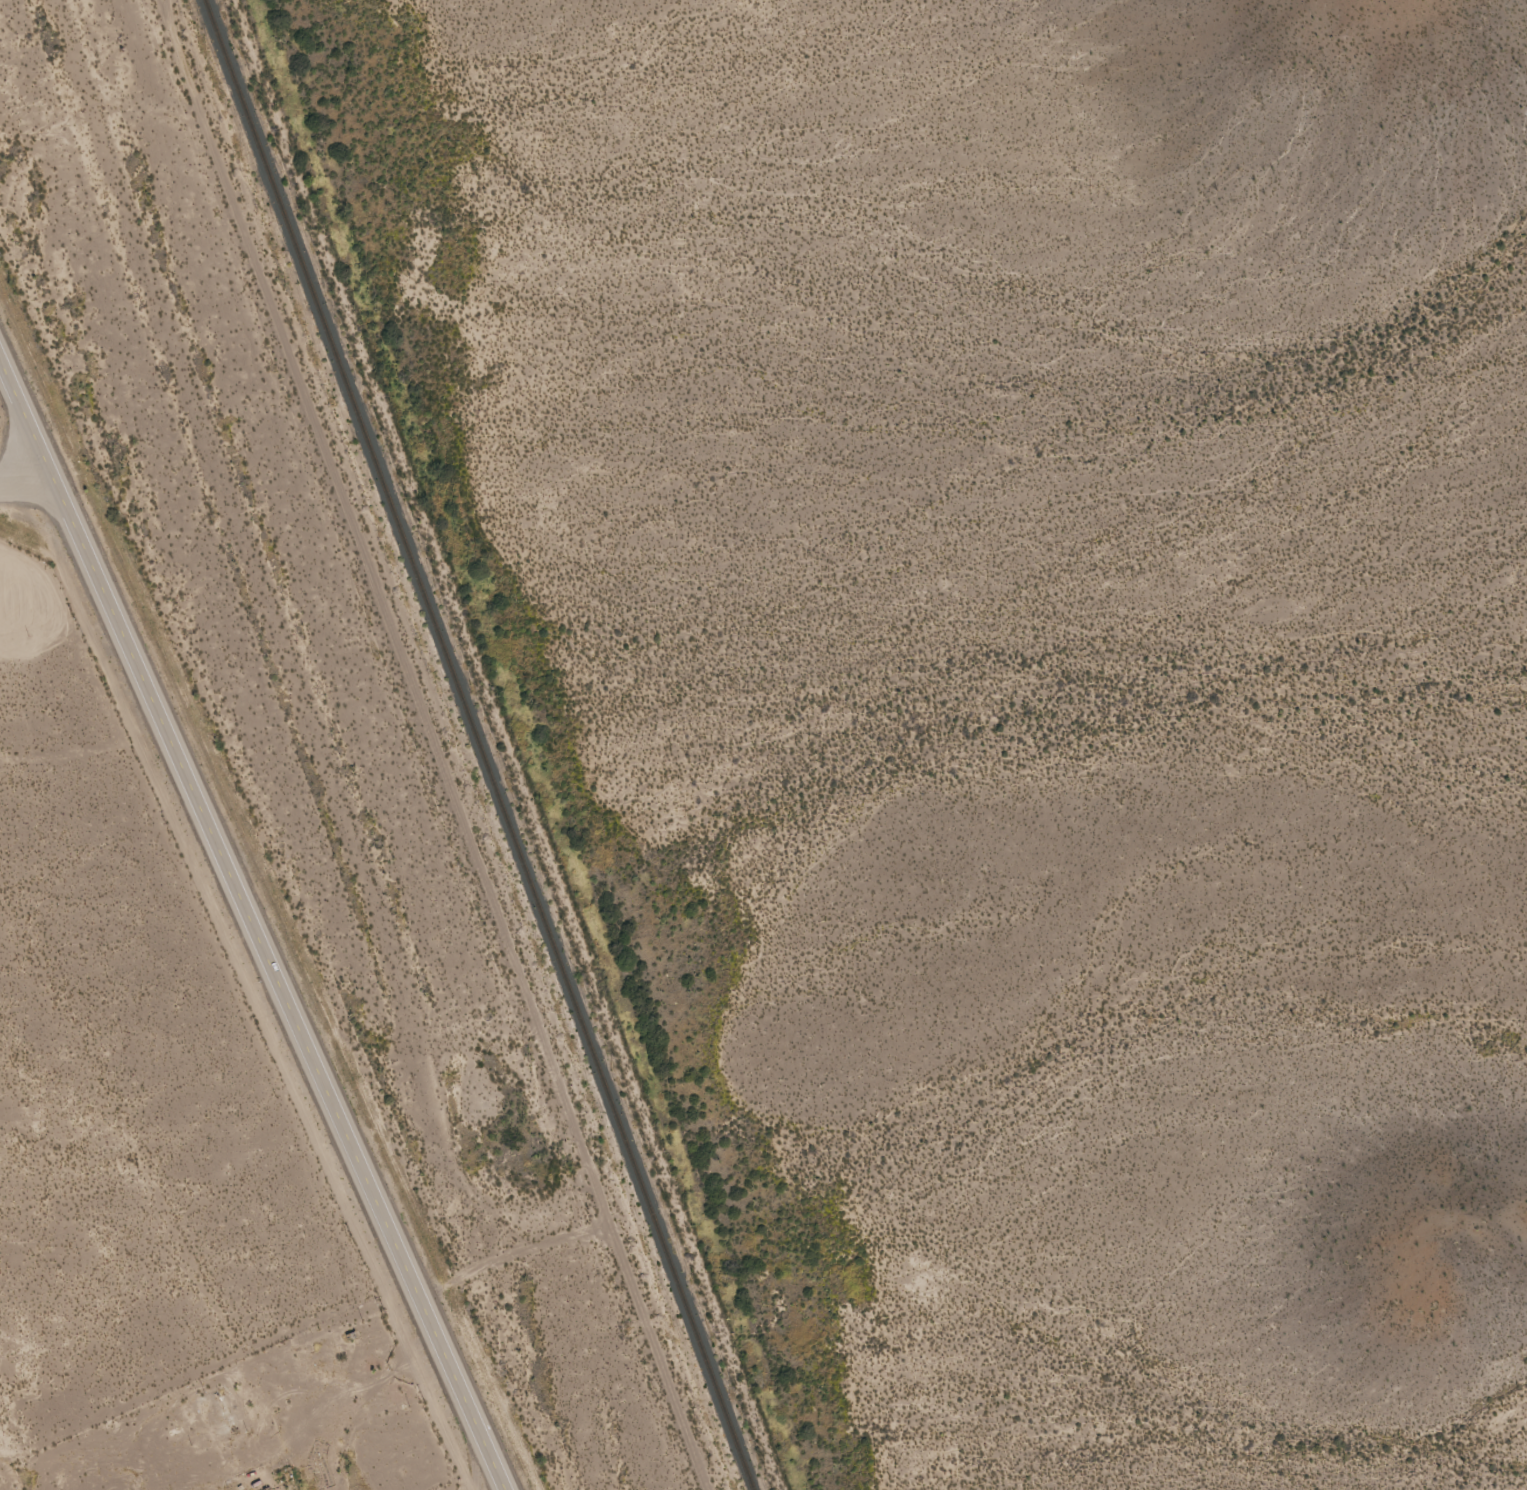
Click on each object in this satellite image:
road: (24, 478)
railway: (480, 744)
road: (253, 929)

